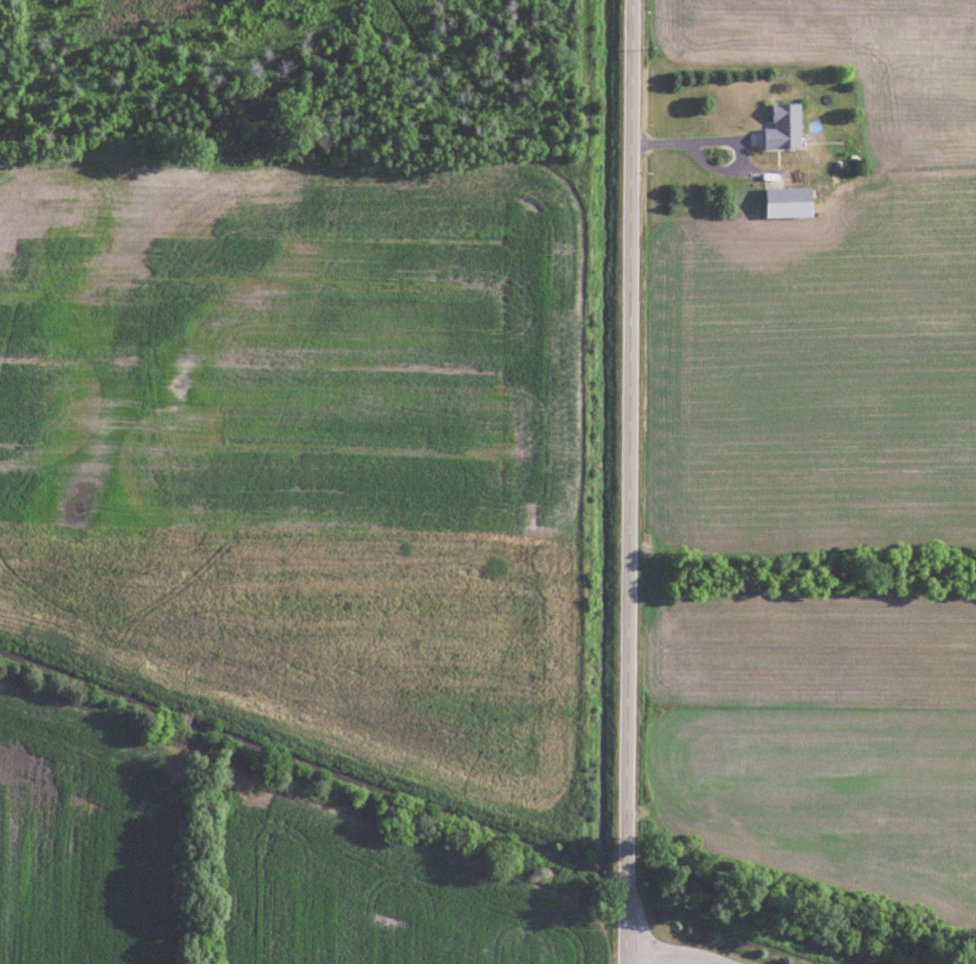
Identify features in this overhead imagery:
building: (786, 127)
road: (713, 166)
building: (790, 202)
road: (628, 482)
road: (673, 954)

